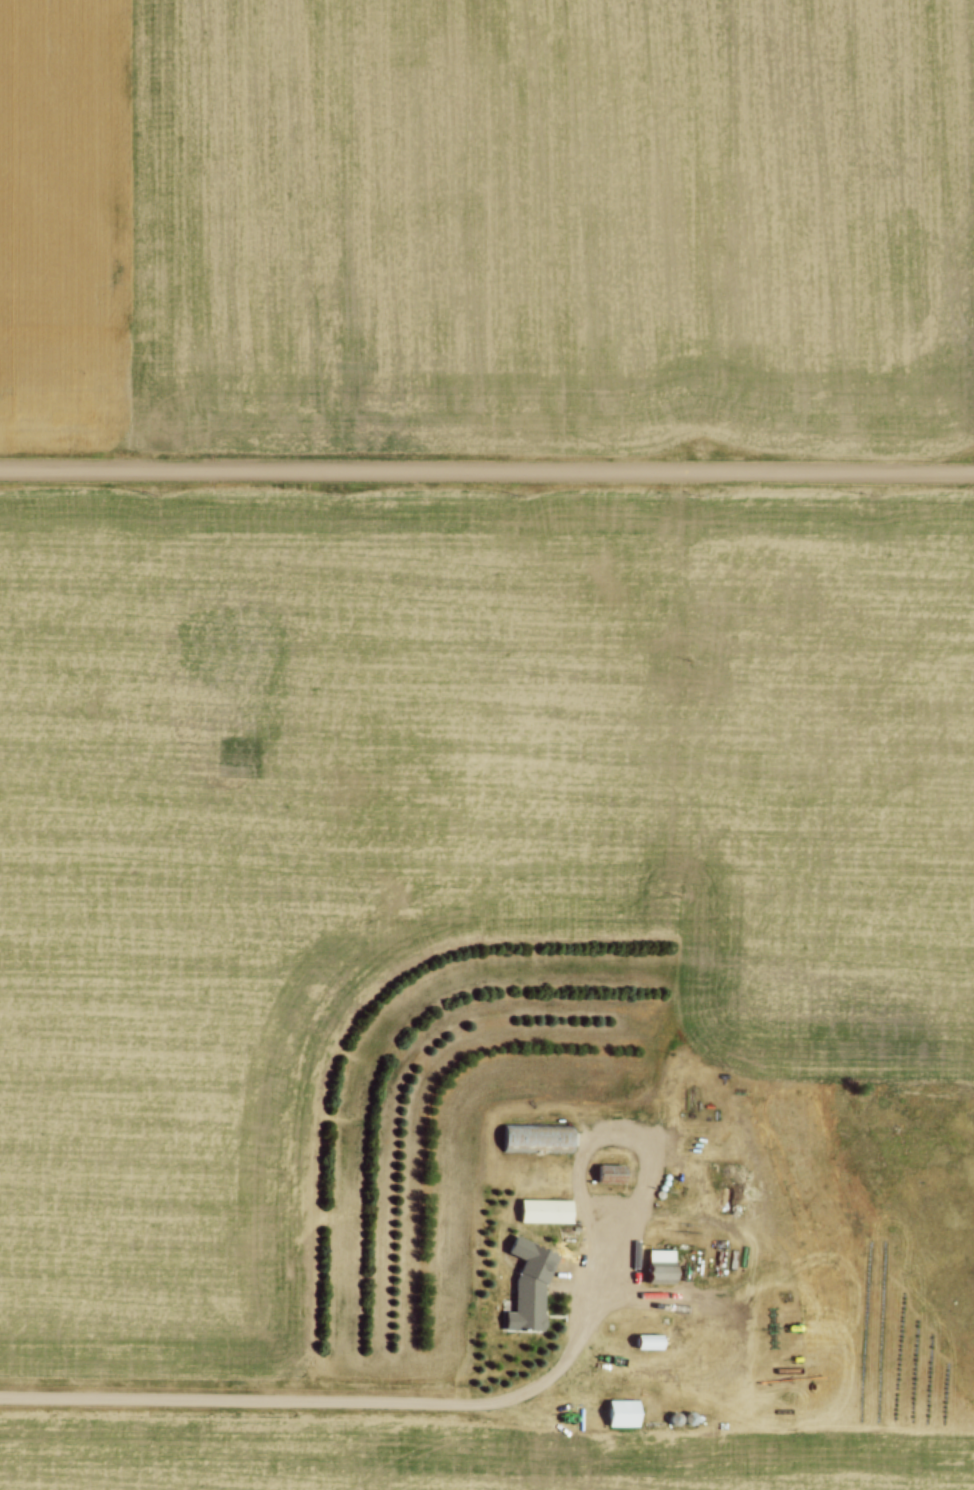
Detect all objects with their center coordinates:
crop: (493, 221)
road: (487, 469)
crop: (478, 920)
building: (537, 1138)
road: (651, 1169)
building: (610, 1172)
building: (545, 1209)
building: (661, 1263)
building: (525, 1306)
building: (647, 1338)
road: (349, 1402)
building: (621, 1411)
silo: (690, 1416)
silo: (673, 1417)

